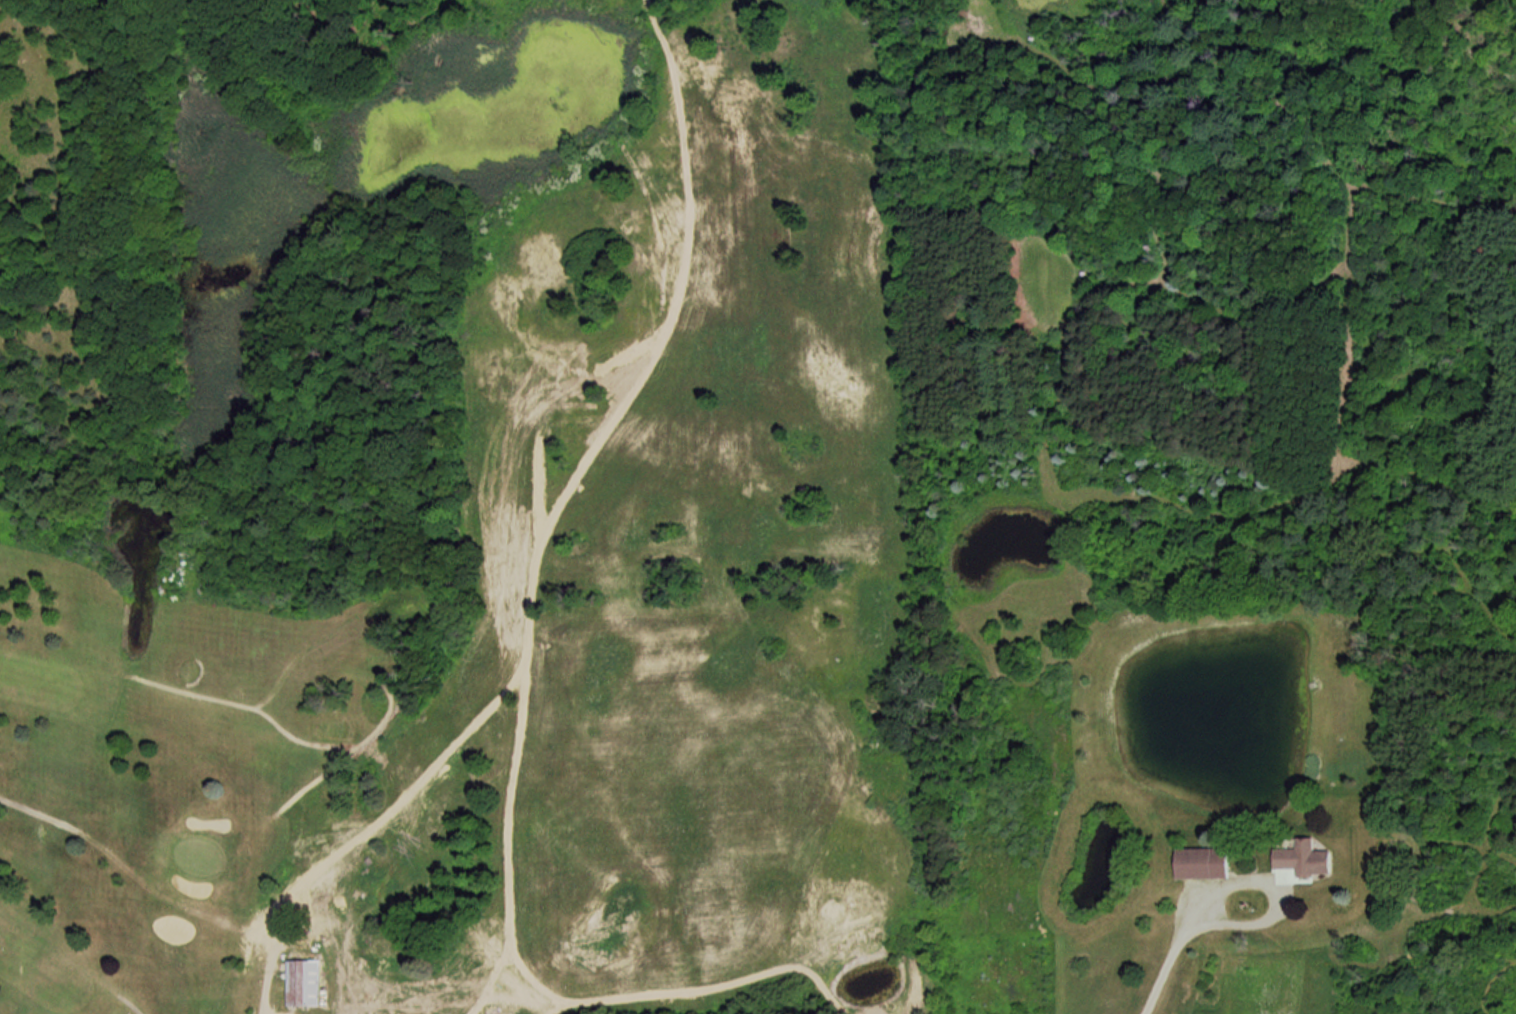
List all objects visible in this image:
building: (1310, 861)
building: (1208, 864)
building: (307, 984)

